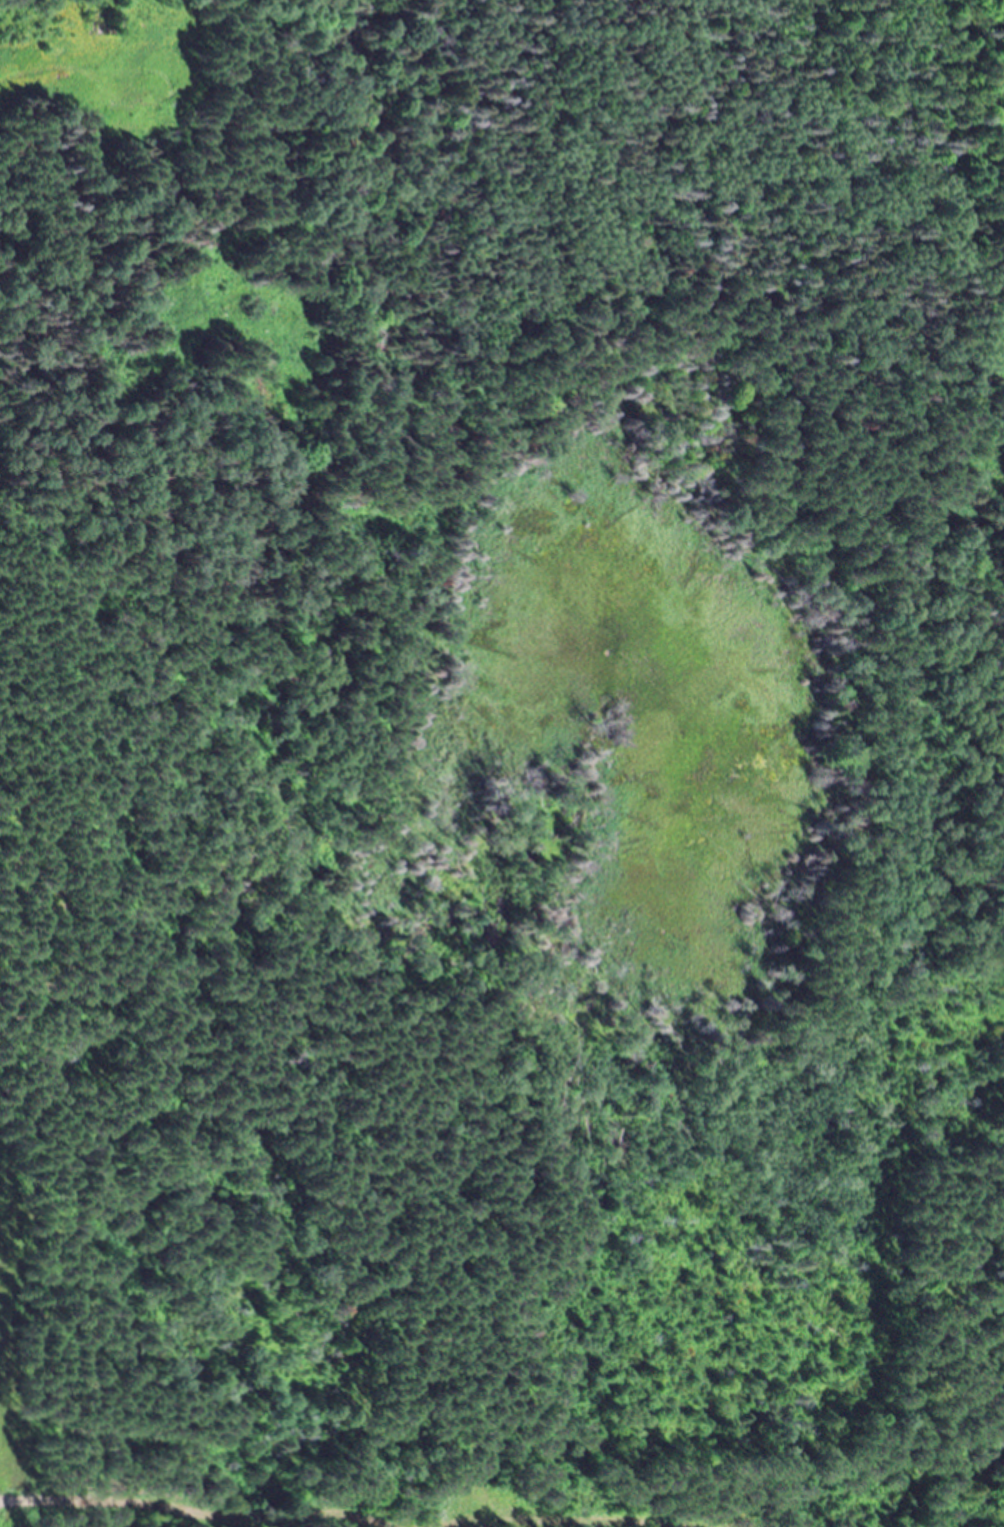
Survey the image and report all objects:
road: (985, 1404)
road: (307, 1521)

